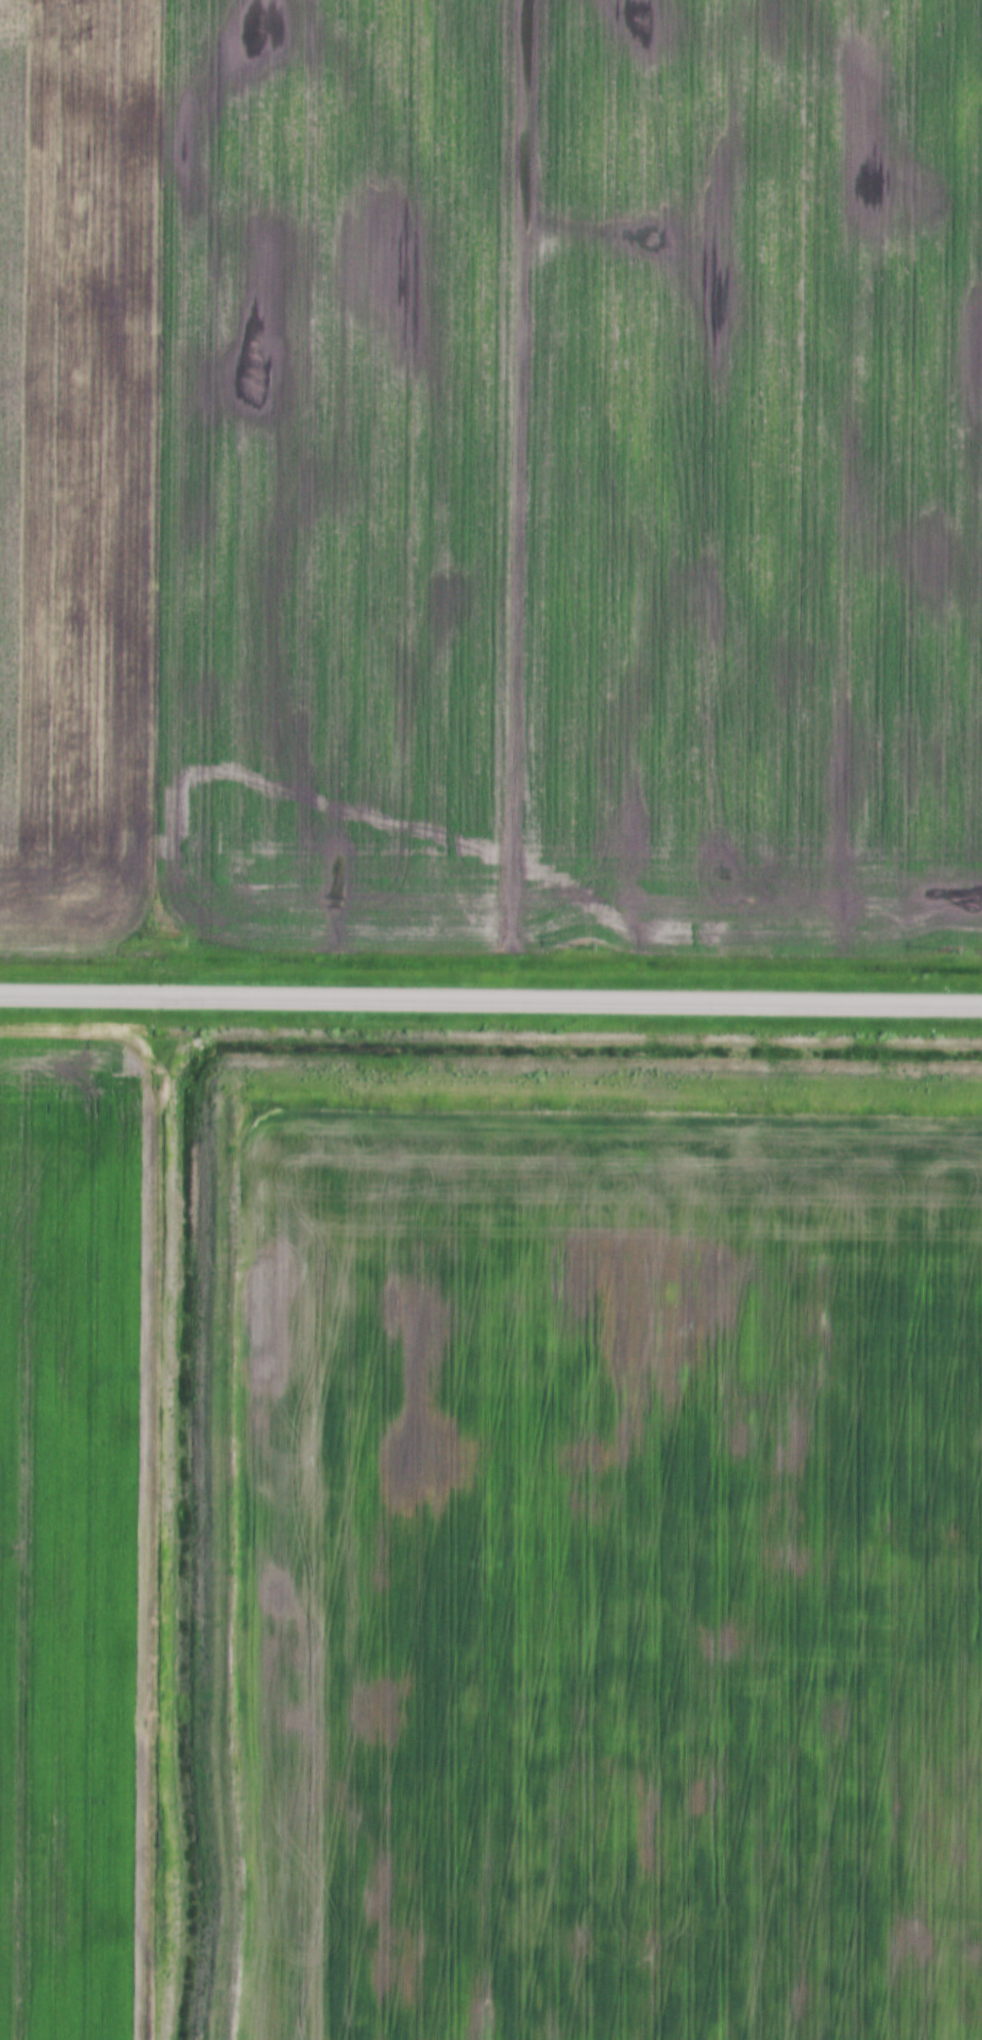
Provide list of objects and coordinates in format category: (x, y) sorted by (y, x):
road: (491, 1001)

